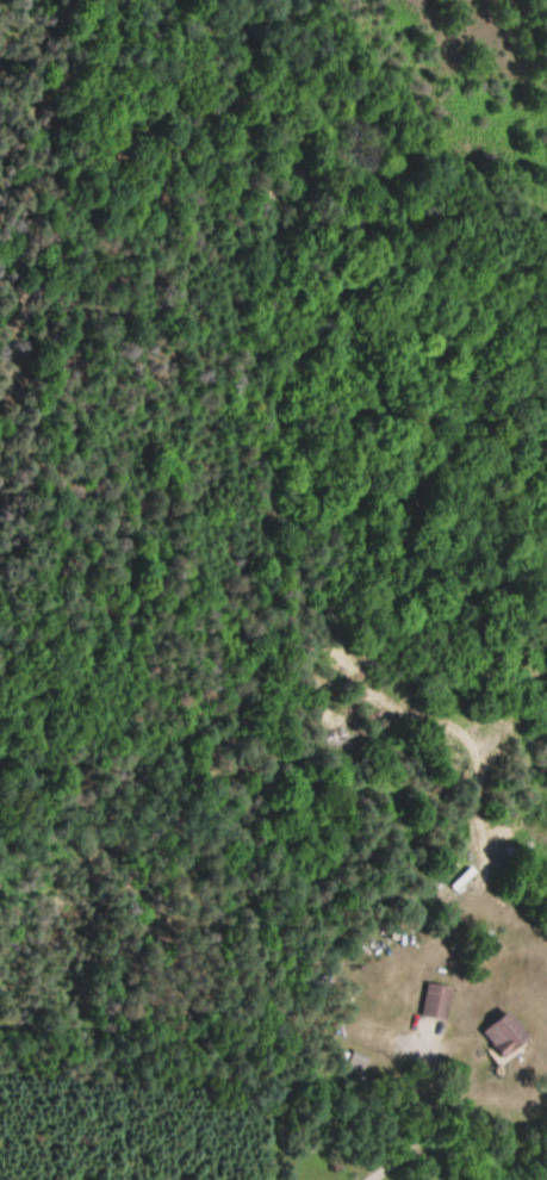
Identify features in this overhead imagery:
building: (434, 1000)
building: (502, 1033)

